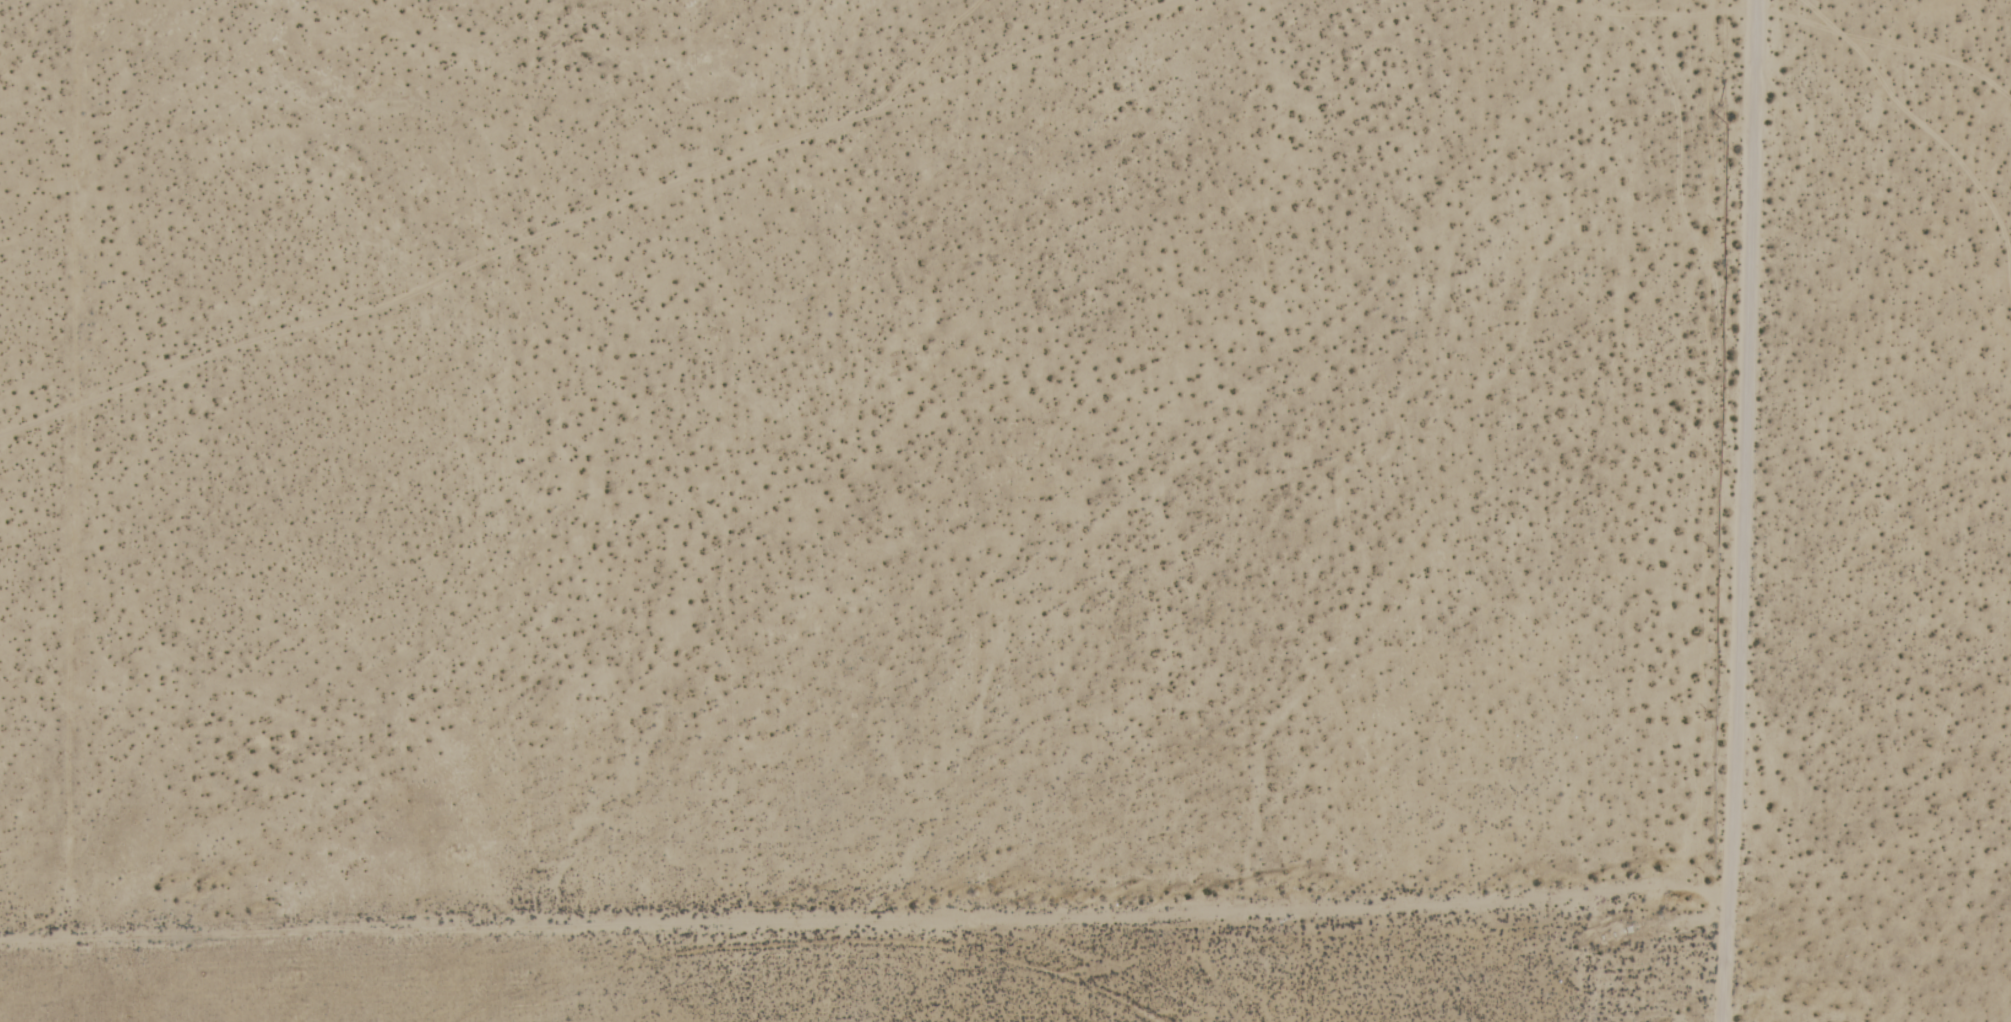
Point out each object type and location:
road: (1702, 136)
road: (1716, 647)

